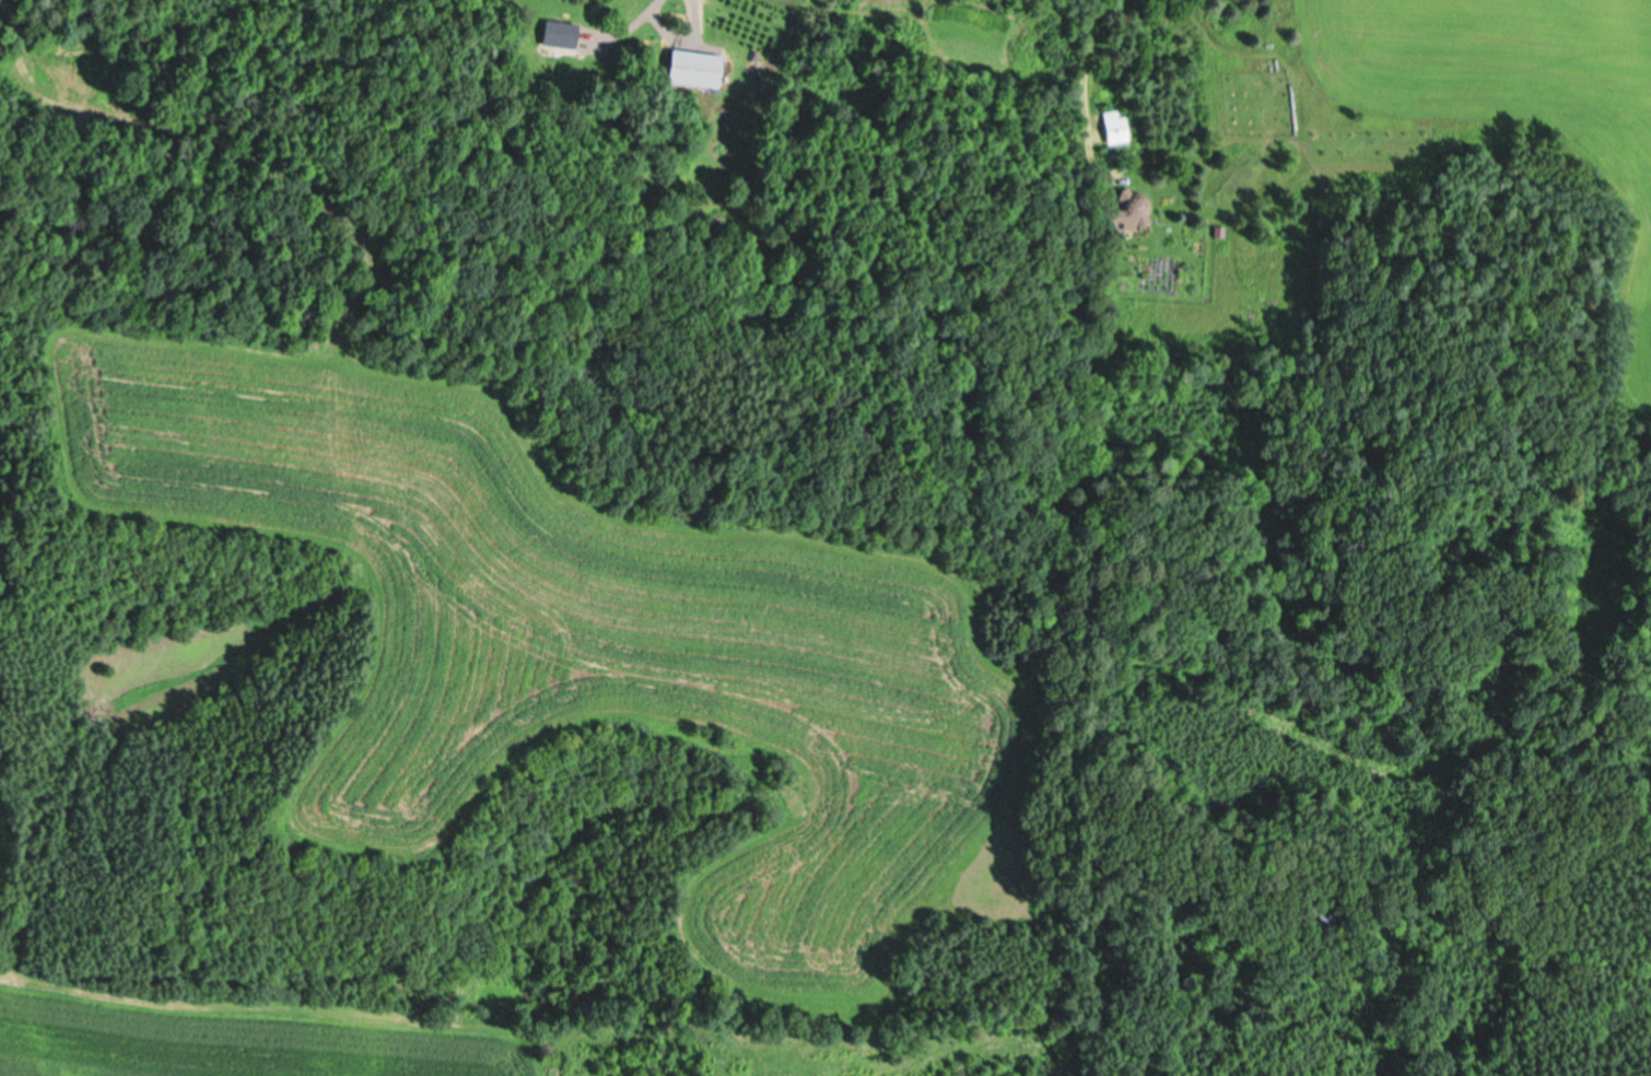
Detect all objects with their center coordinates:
building: (559, 34)
road: (1079, 46)
building: (694, 68)
building: (1113, 129)
building: (1131, 211)

